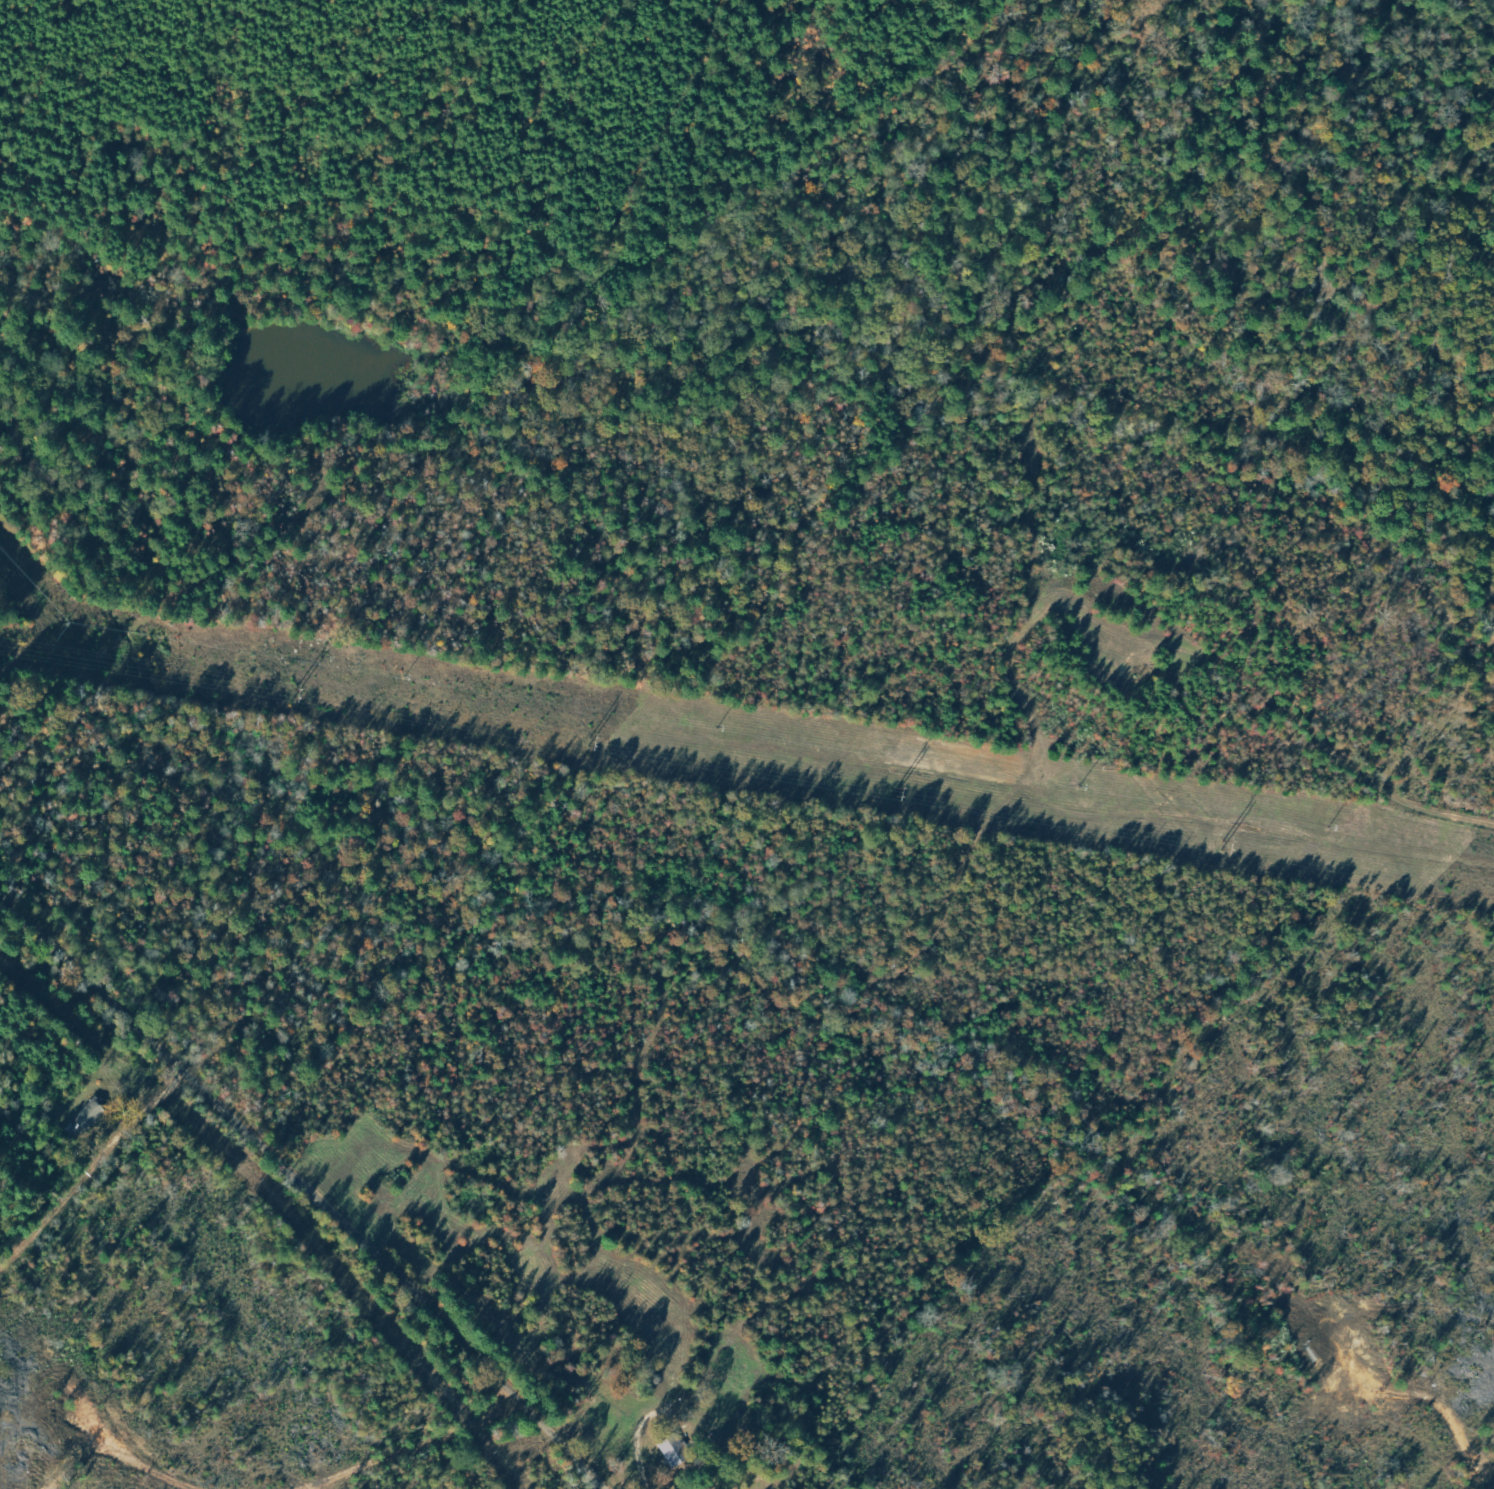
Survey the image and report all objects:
building: (87, 1119)
road: (304, 1191)
road: (424, 1443)
road: (1479, 1475)

